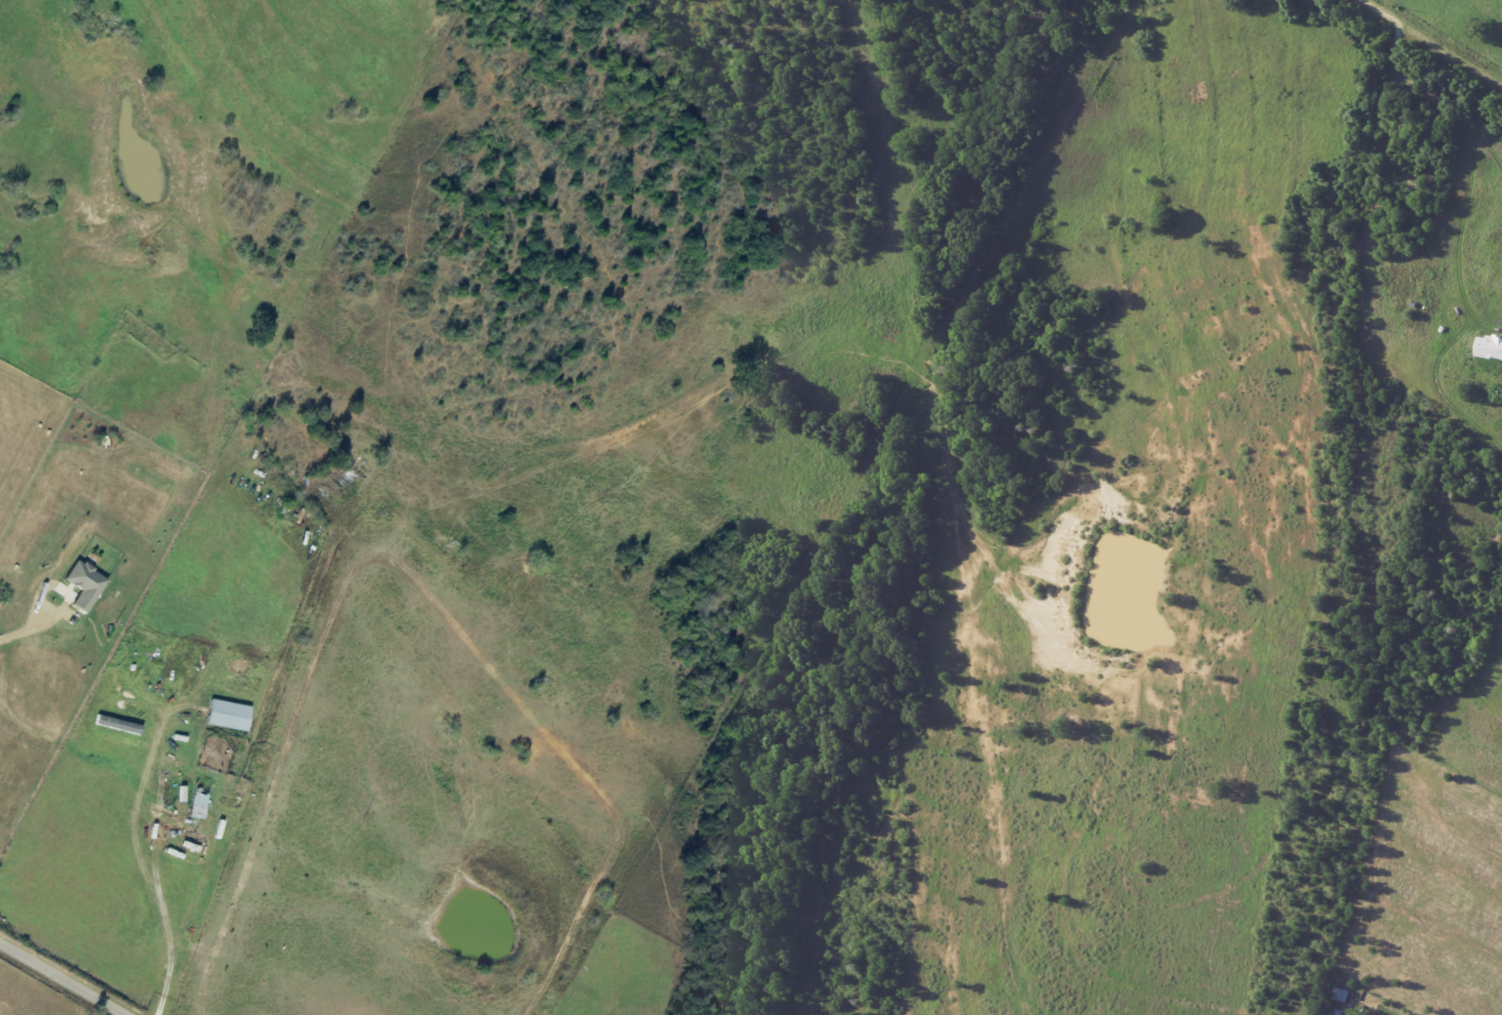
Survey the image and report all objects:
road: (1422, 45)
building: (1489, 347)
building: (86, 584)
road: (29, 638)
building: (230, 715)
building: (119, 724)
building: (199, 805)
road: (155, 875)
road: (54, 983)

